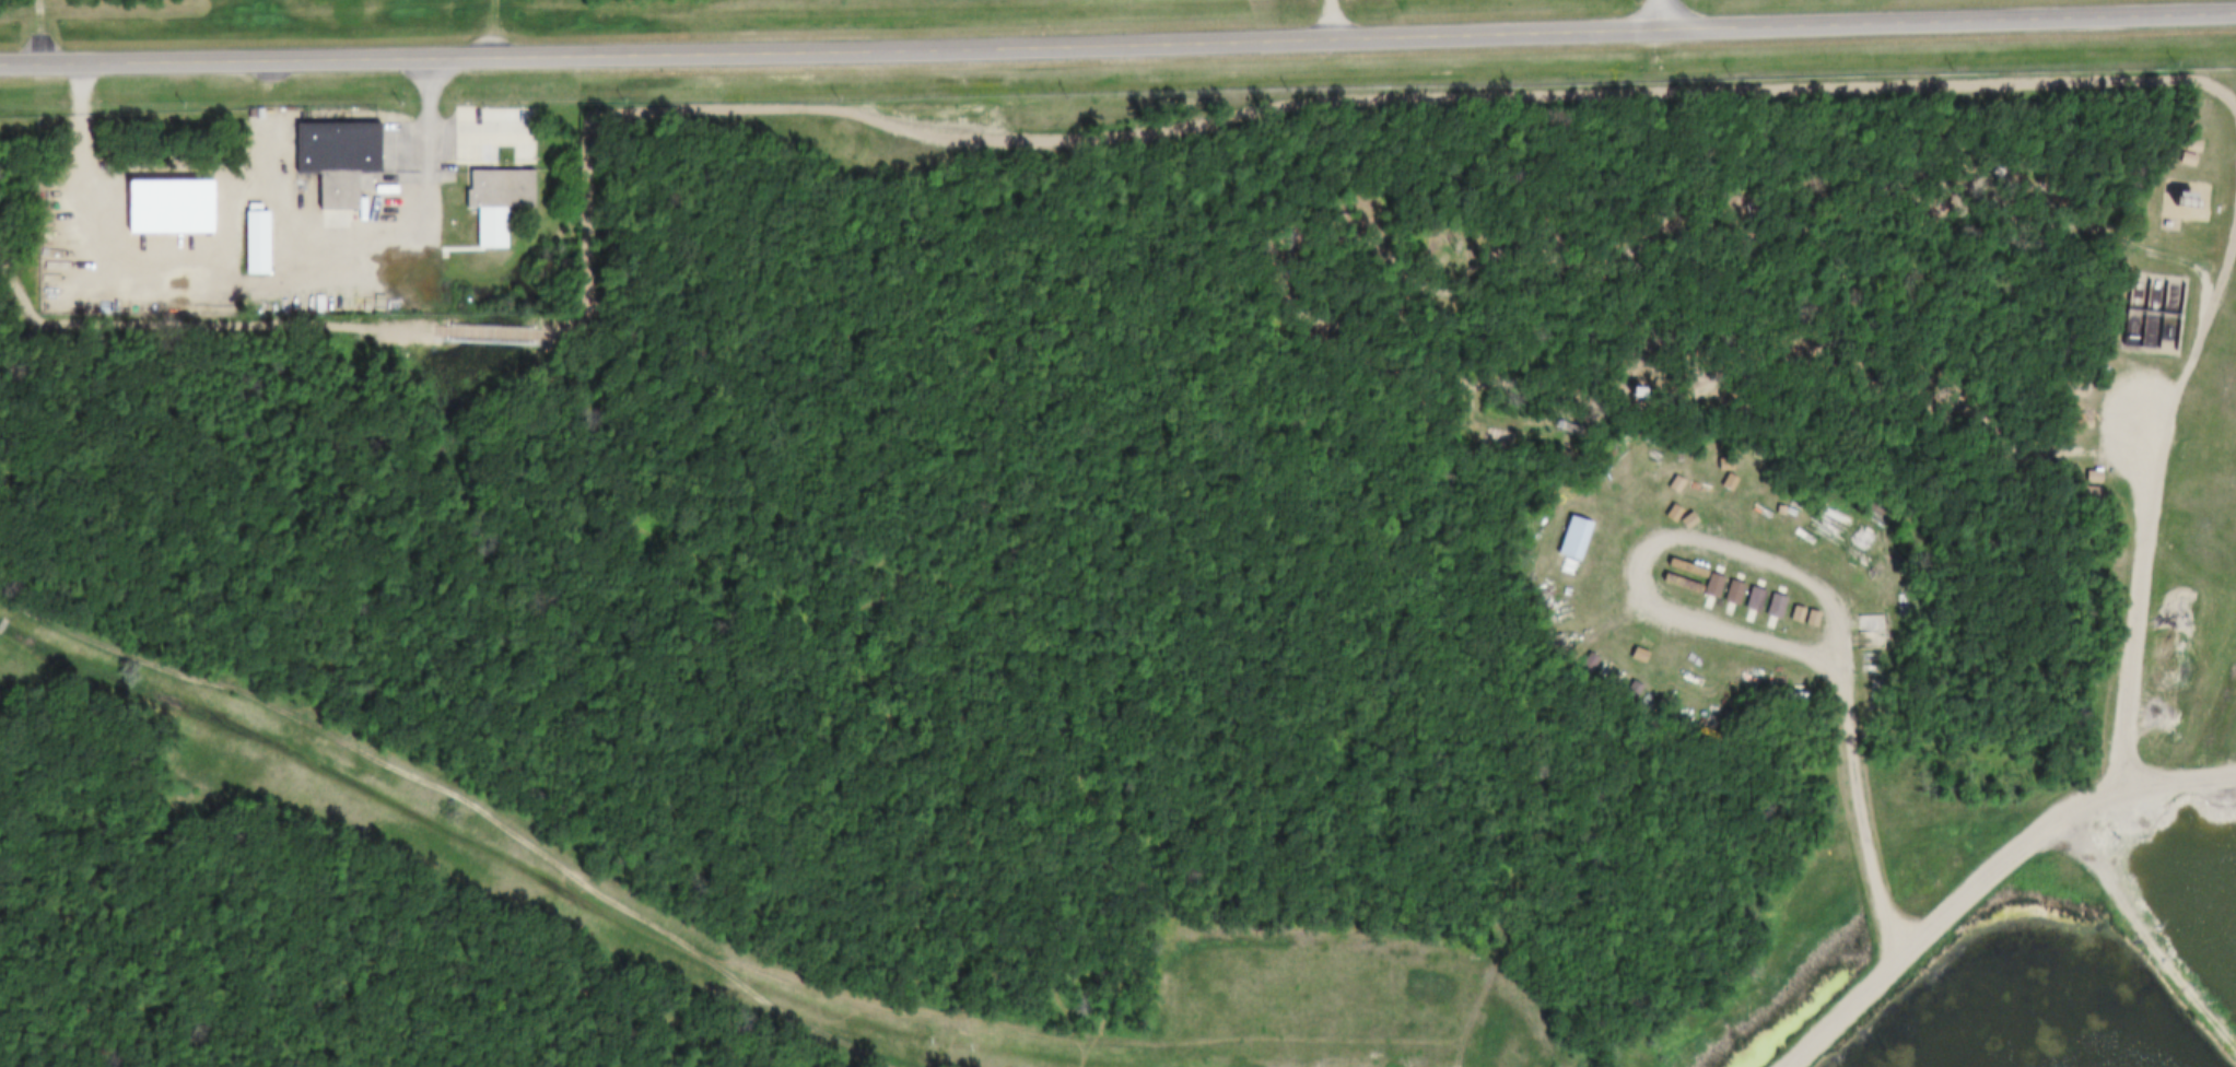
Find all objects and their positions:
road: (1667, 13)
road: (1117, 39)
building: (329, 145)
building: (492, 199)
building: (2176, 199)
building: (2186, 200)
building: (2158, 222)
building: (248, 241)
building: (2084, 474)
building: (1647, 476)
building: (1672, 477)
building: (1728, 479)
building: (1603, 485)
building: (2083, 490)
building: (2093, 495)
building: (1565, 536)
building: (1576, 540)
building: (1678, 562)
building: (1685, 577)
road: (2140, 584)
building: (1701, 589)
building: (1735, 594)
building: (1720, 596)
building: (1756, 601)
building: (1742, 602)
building: (1763, 609)
building: (1782, 611)
road: (1736, 629)
building: (1628, 688)
road: (1988, 877)

